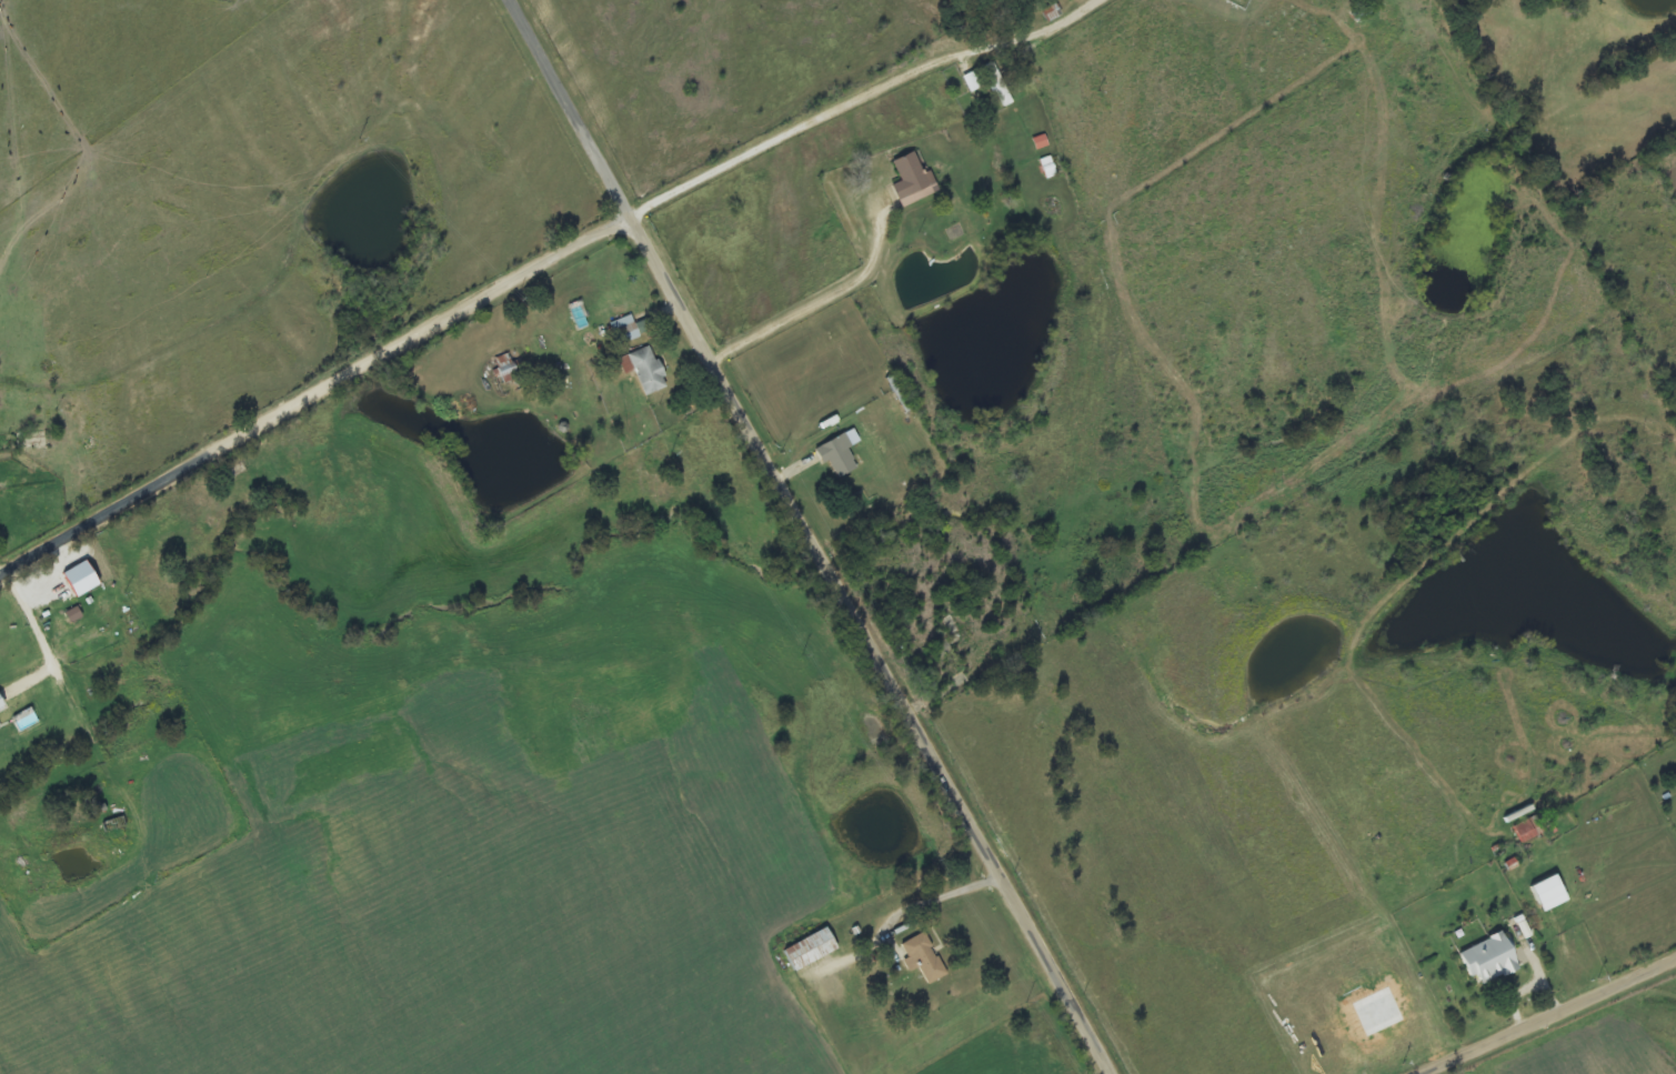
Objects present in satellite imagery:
building: (995, 79)
building: (974, 82)
road: (862, 97)
road: (571, 107)
building: (913, 181)
building: (630, 329)
building: (508, 369)
building: (644, 370)
road: (314, 394)
building: (837, 455)
building: (81, 580)
building: (73, 615)
road: (866, 643)
building: (1, 704)
building: (1529, 830)
building: (1550, 894)
building: (811, 951)
building: (924, 960)
building: (1491, 960)
road: (1546, 1016)

